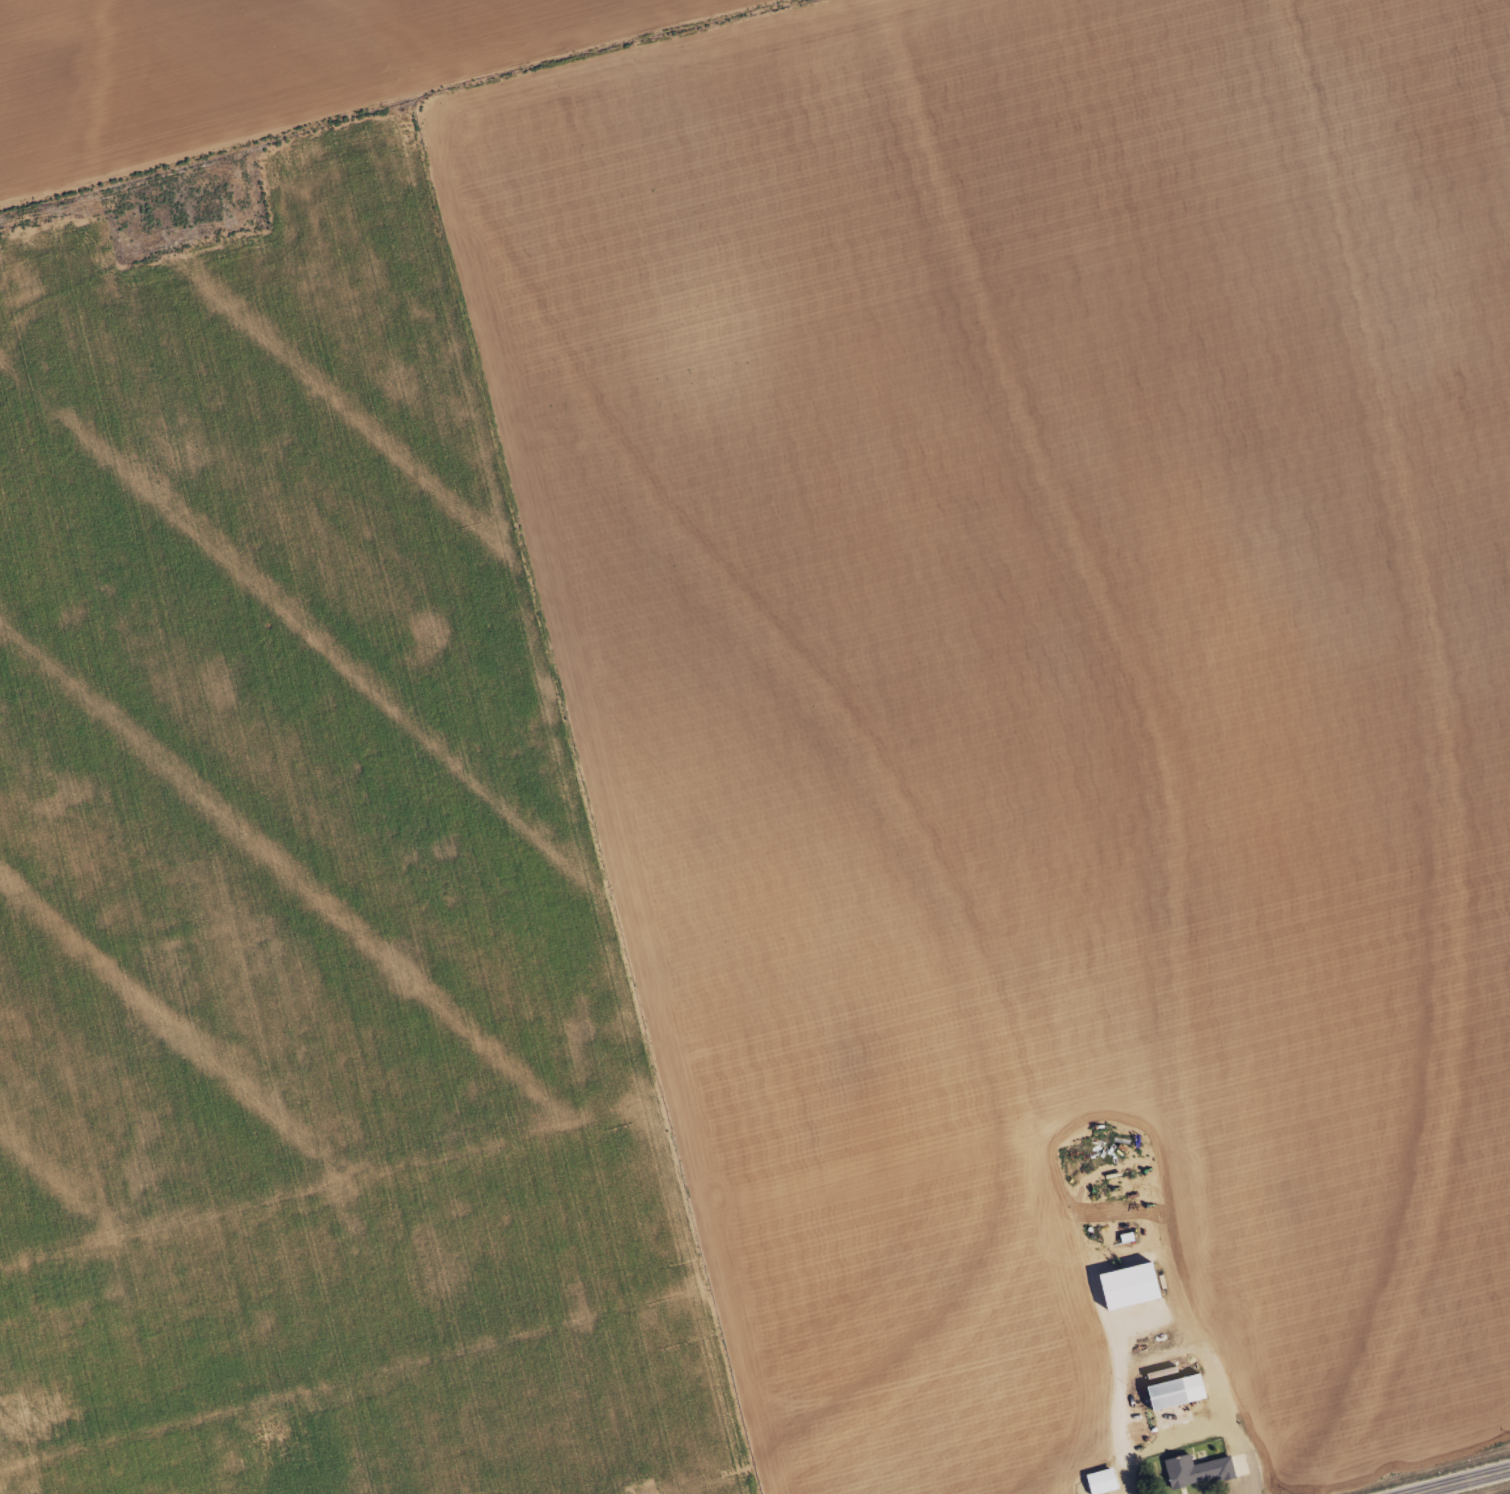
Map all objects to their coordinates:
building: (1171, 1390)
building: (1191, 1469)
road: (1458, 1480)

